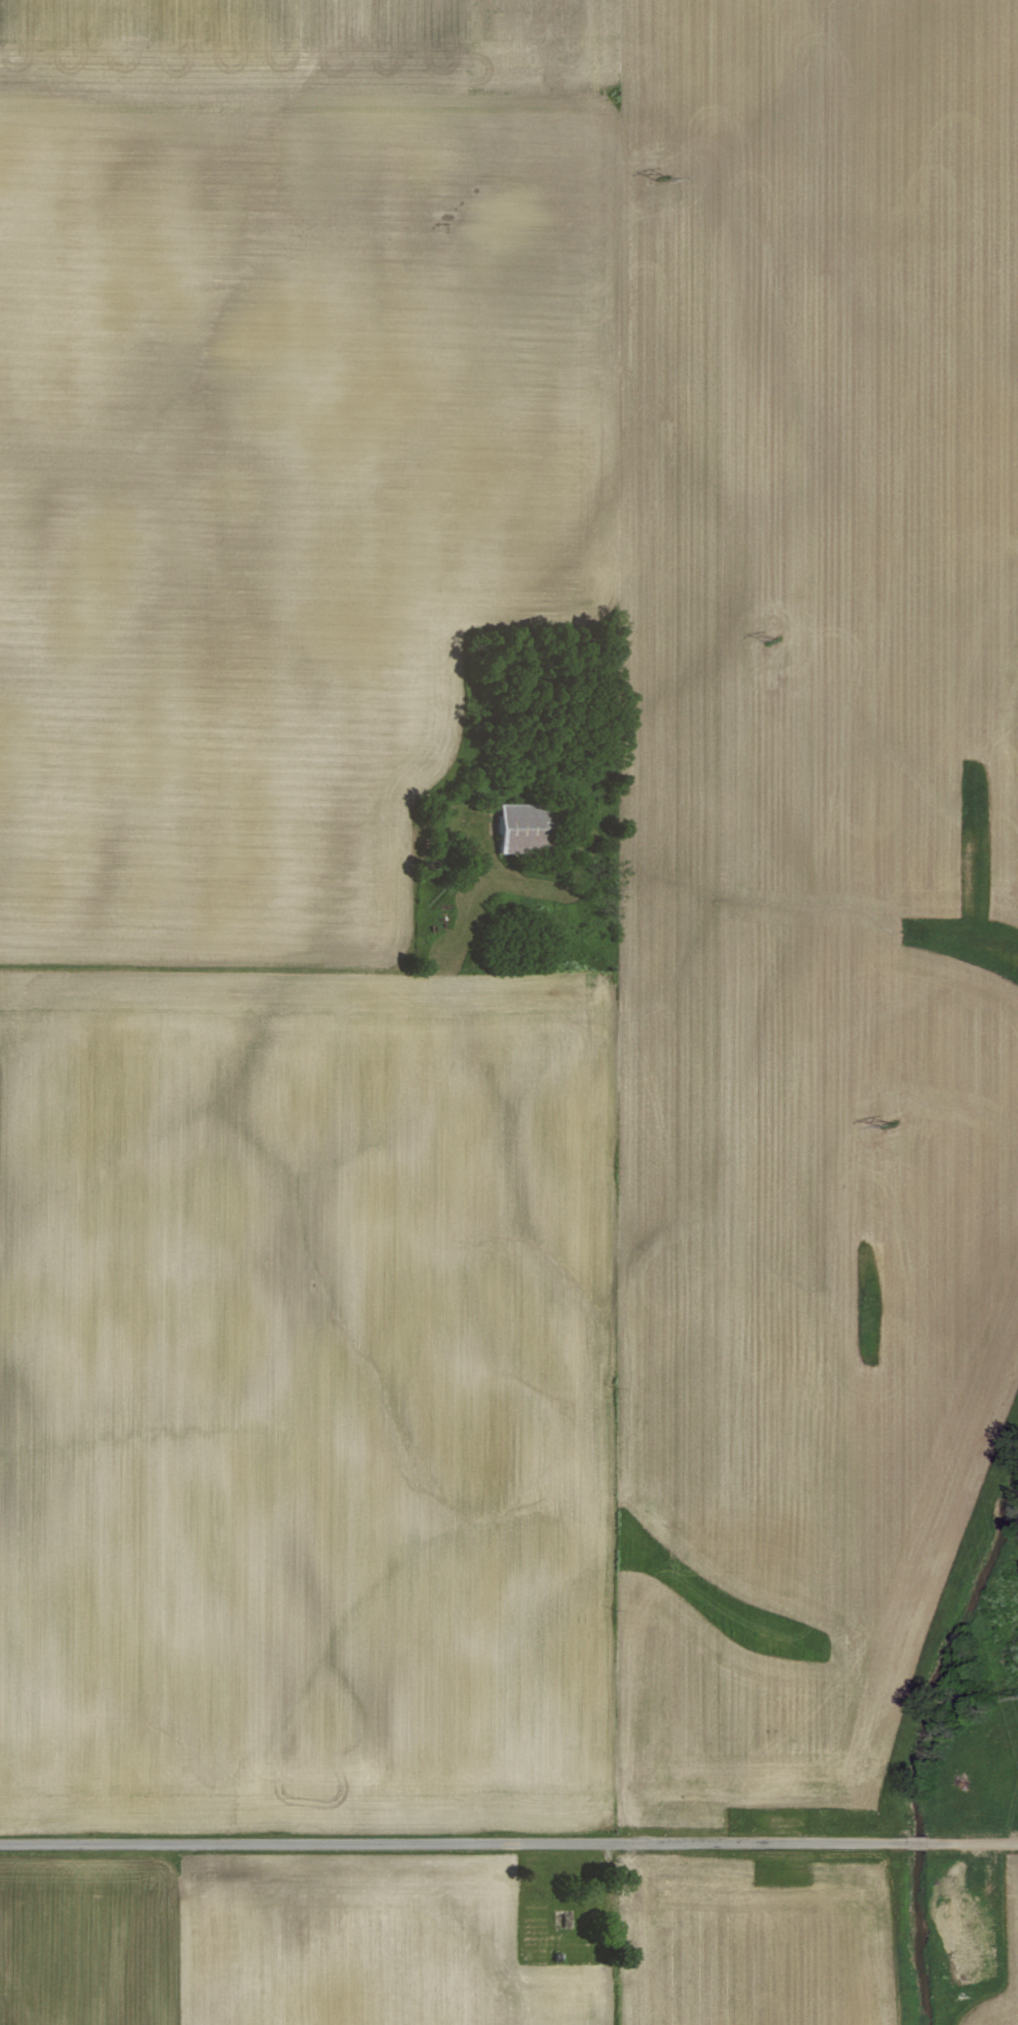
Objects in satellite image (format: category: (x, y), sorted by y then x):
power tower: (662, 177)
power tower: (772, 641)
power tower: (889, 1123)
road: (451, 1840)
road: (912, 1841)
road: (970, 1841)

